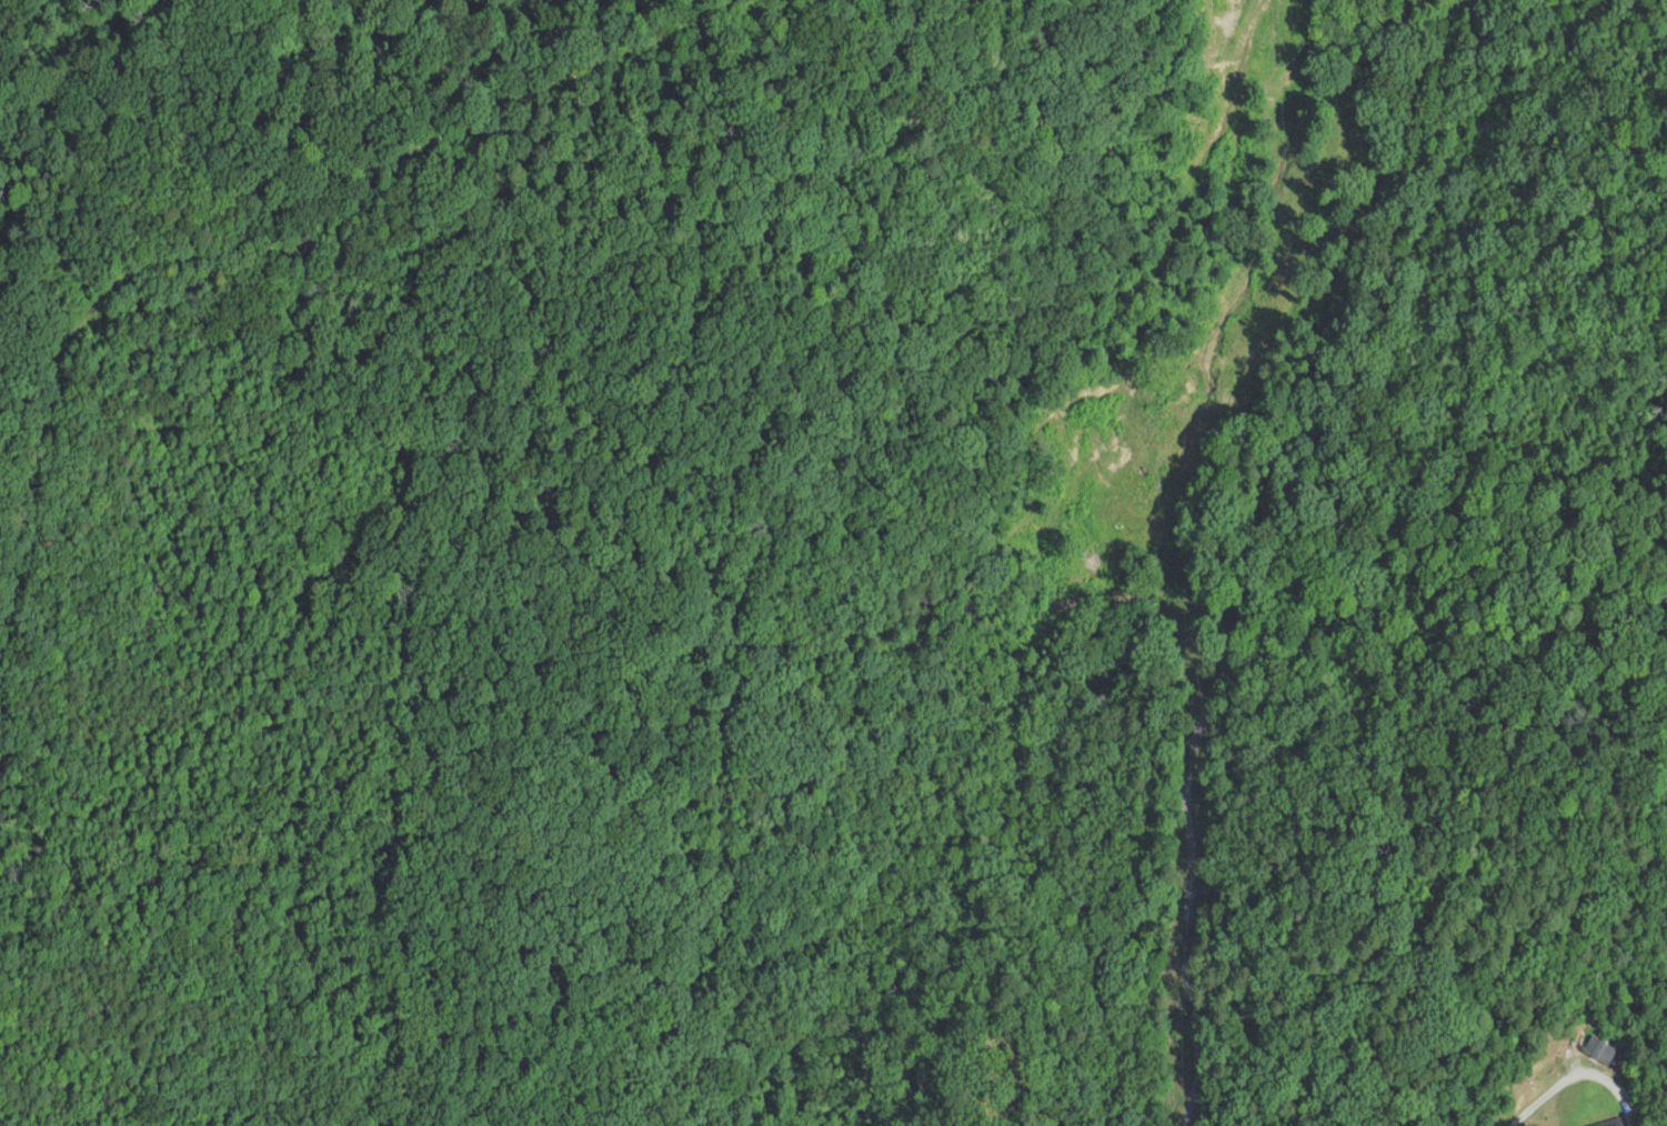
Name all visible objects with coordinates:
building: (1344, 122)
building: (1145, 421)
road: (1253, 550)
building: (1598, 1052)
building: (1611, 1123)

